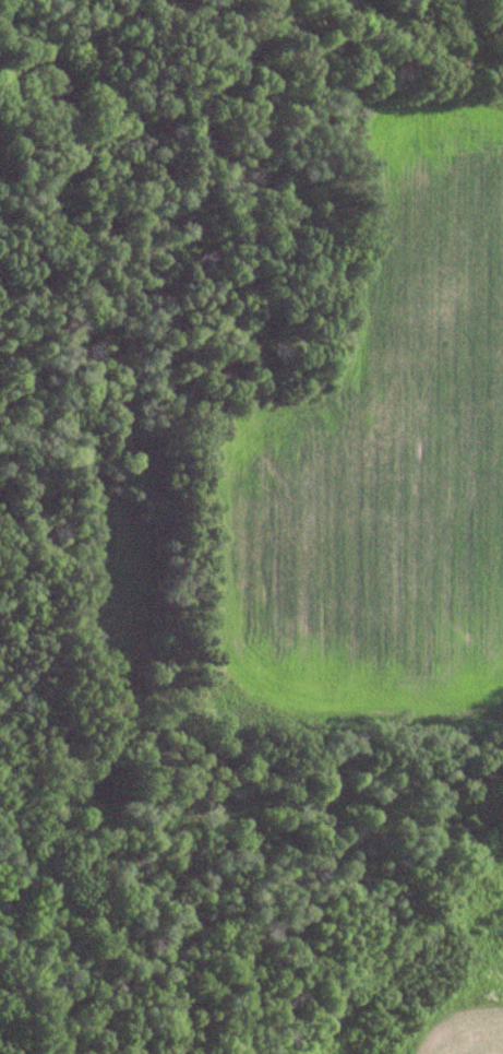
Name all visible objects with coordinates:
road: (251, 276)

